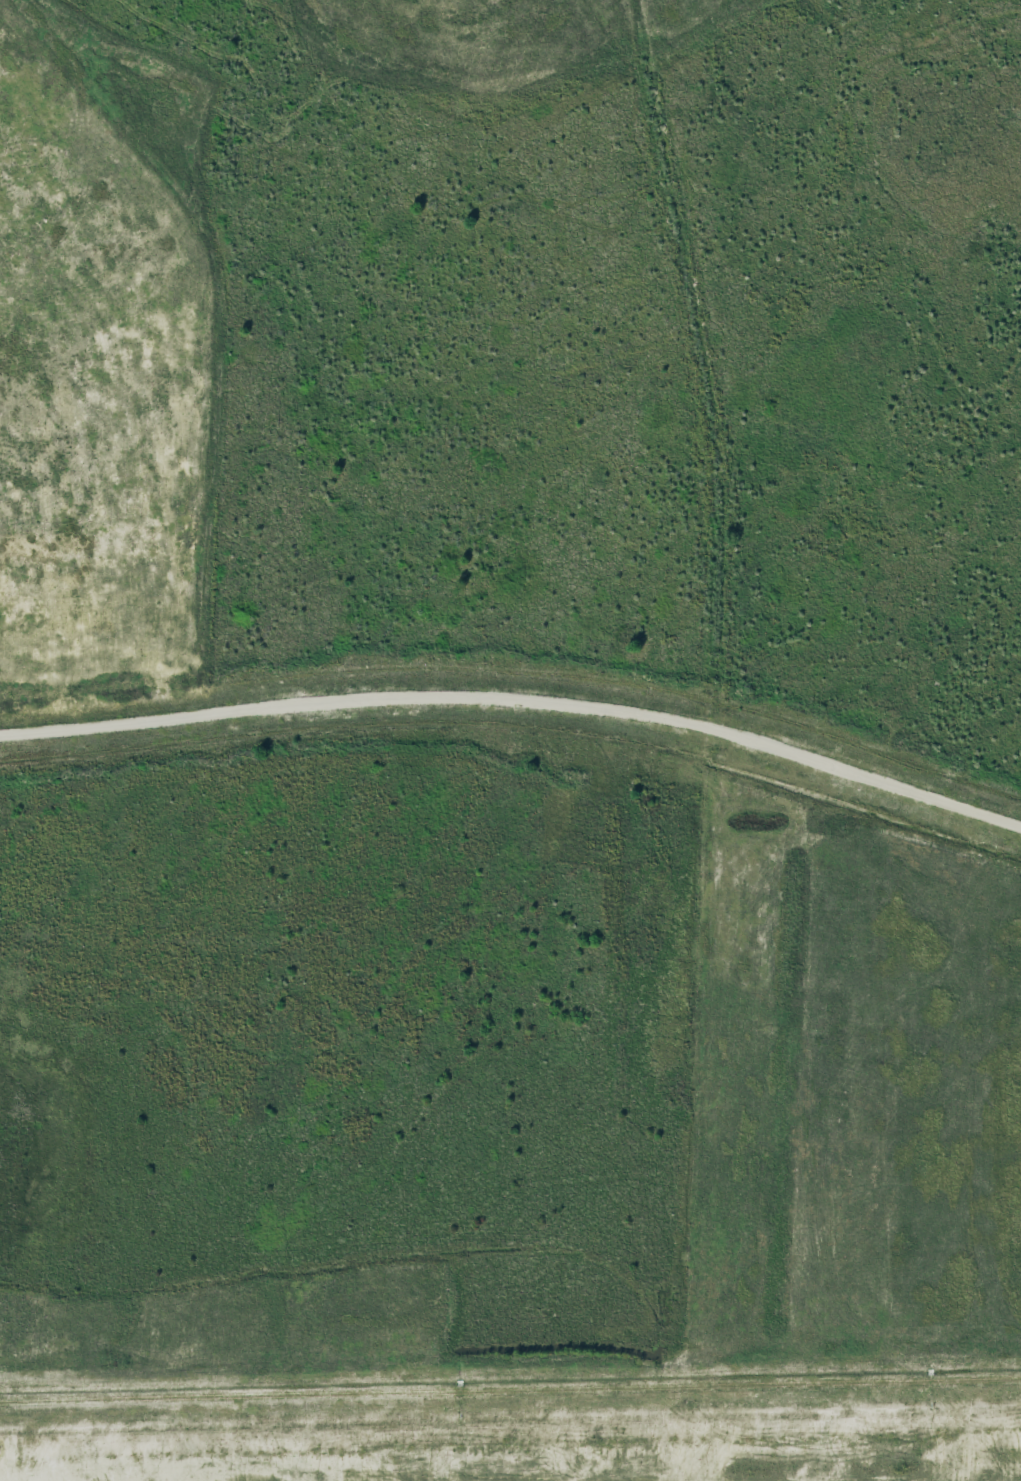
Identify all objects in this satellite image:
road: (518, 700)

